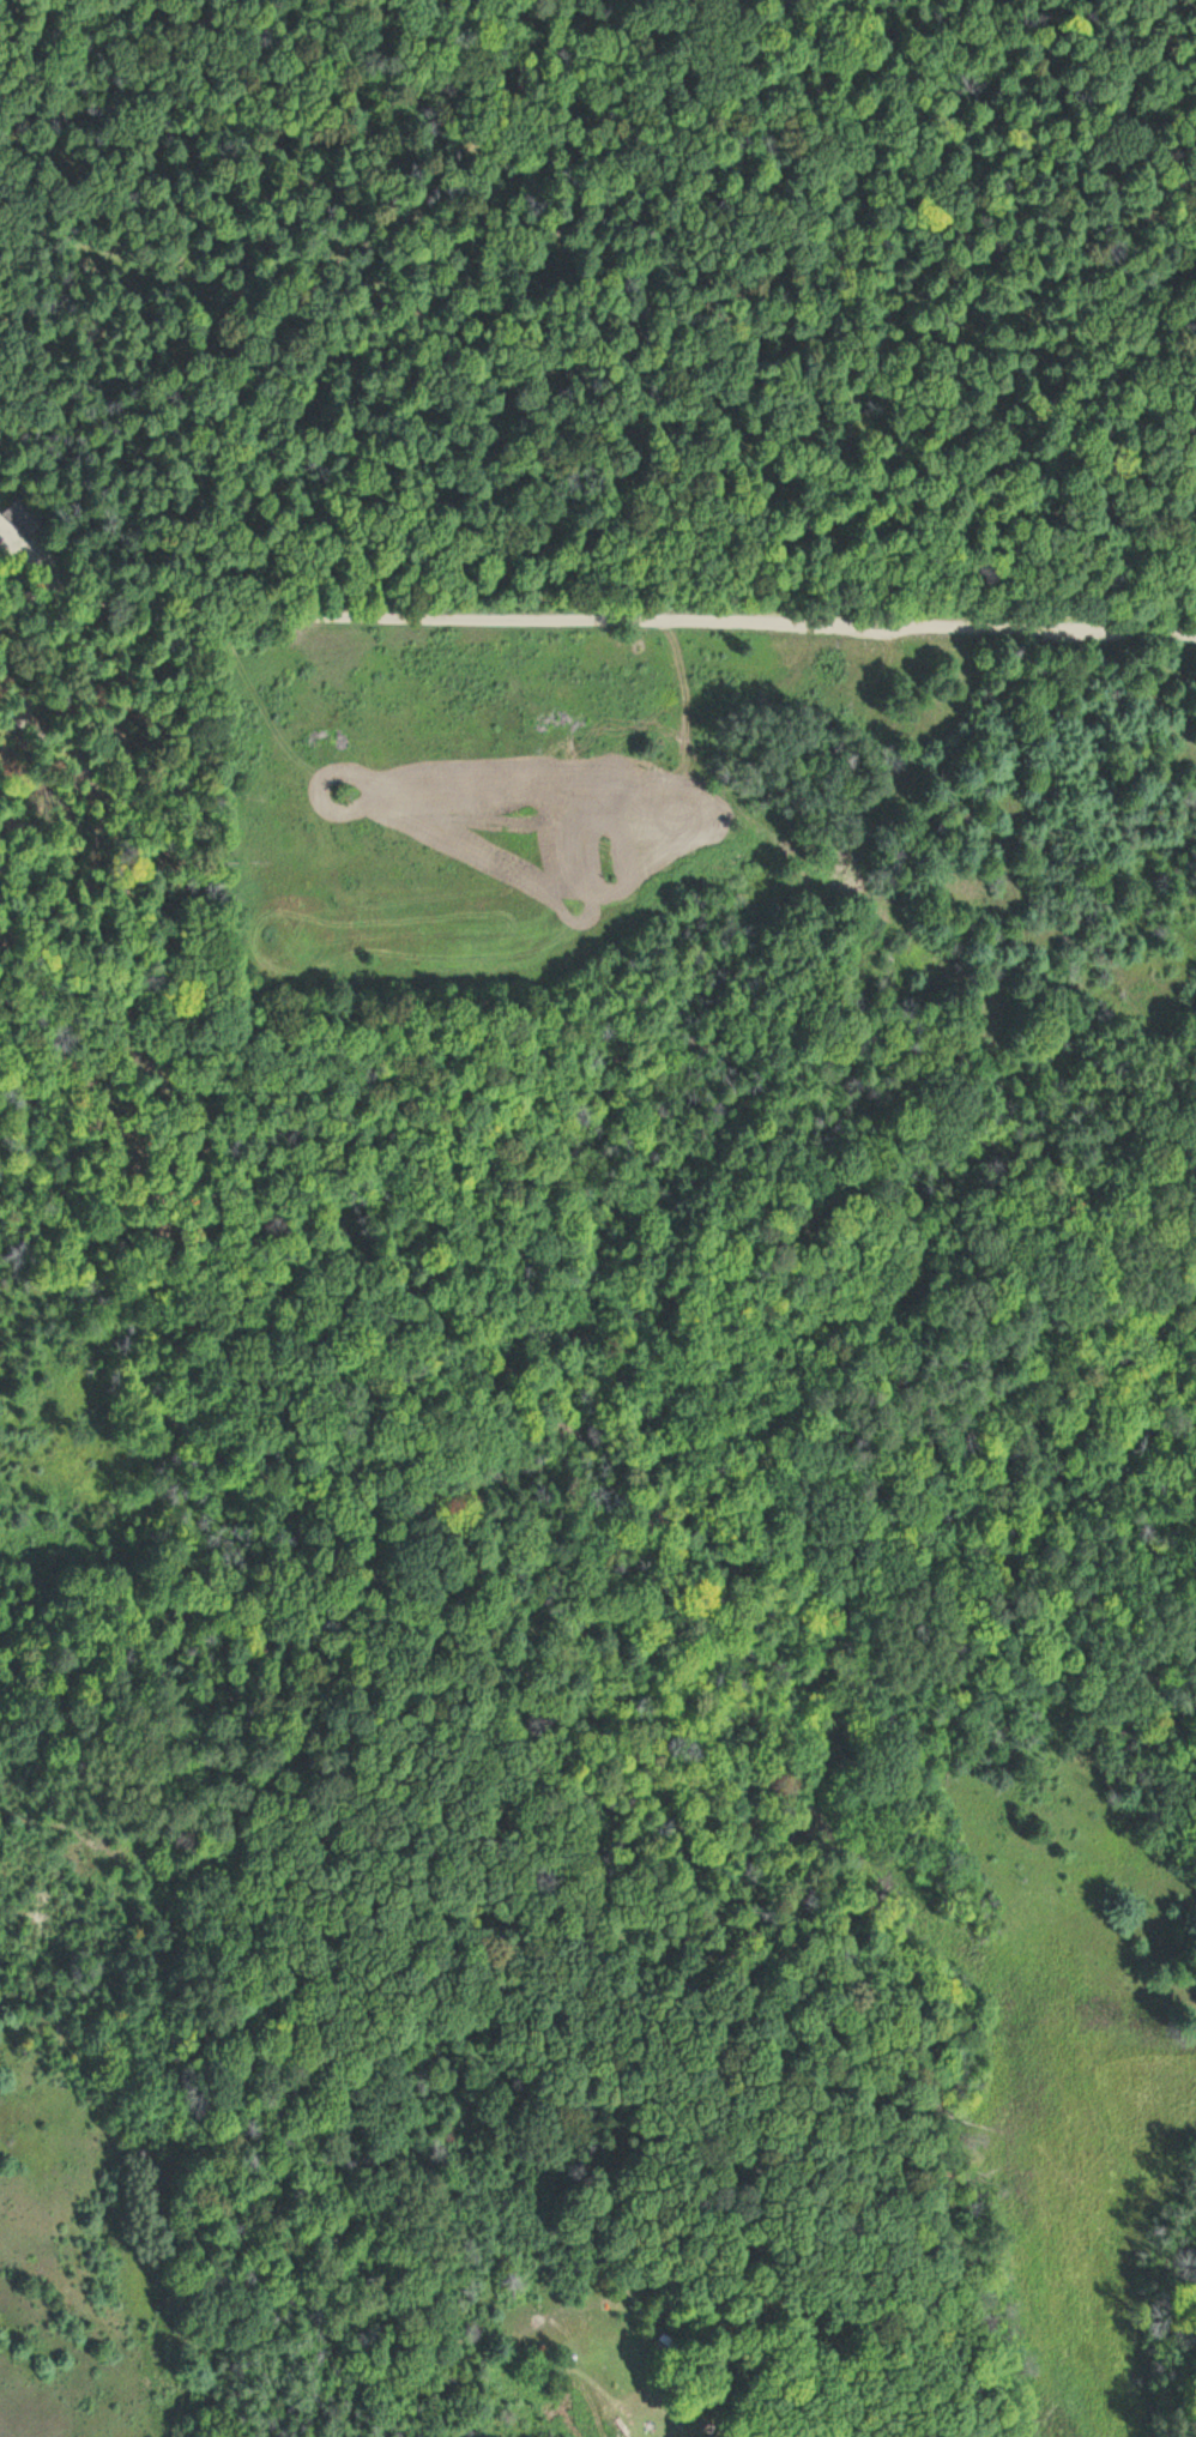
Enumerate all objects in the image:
building: (20, 518)
road: (597, 616)

